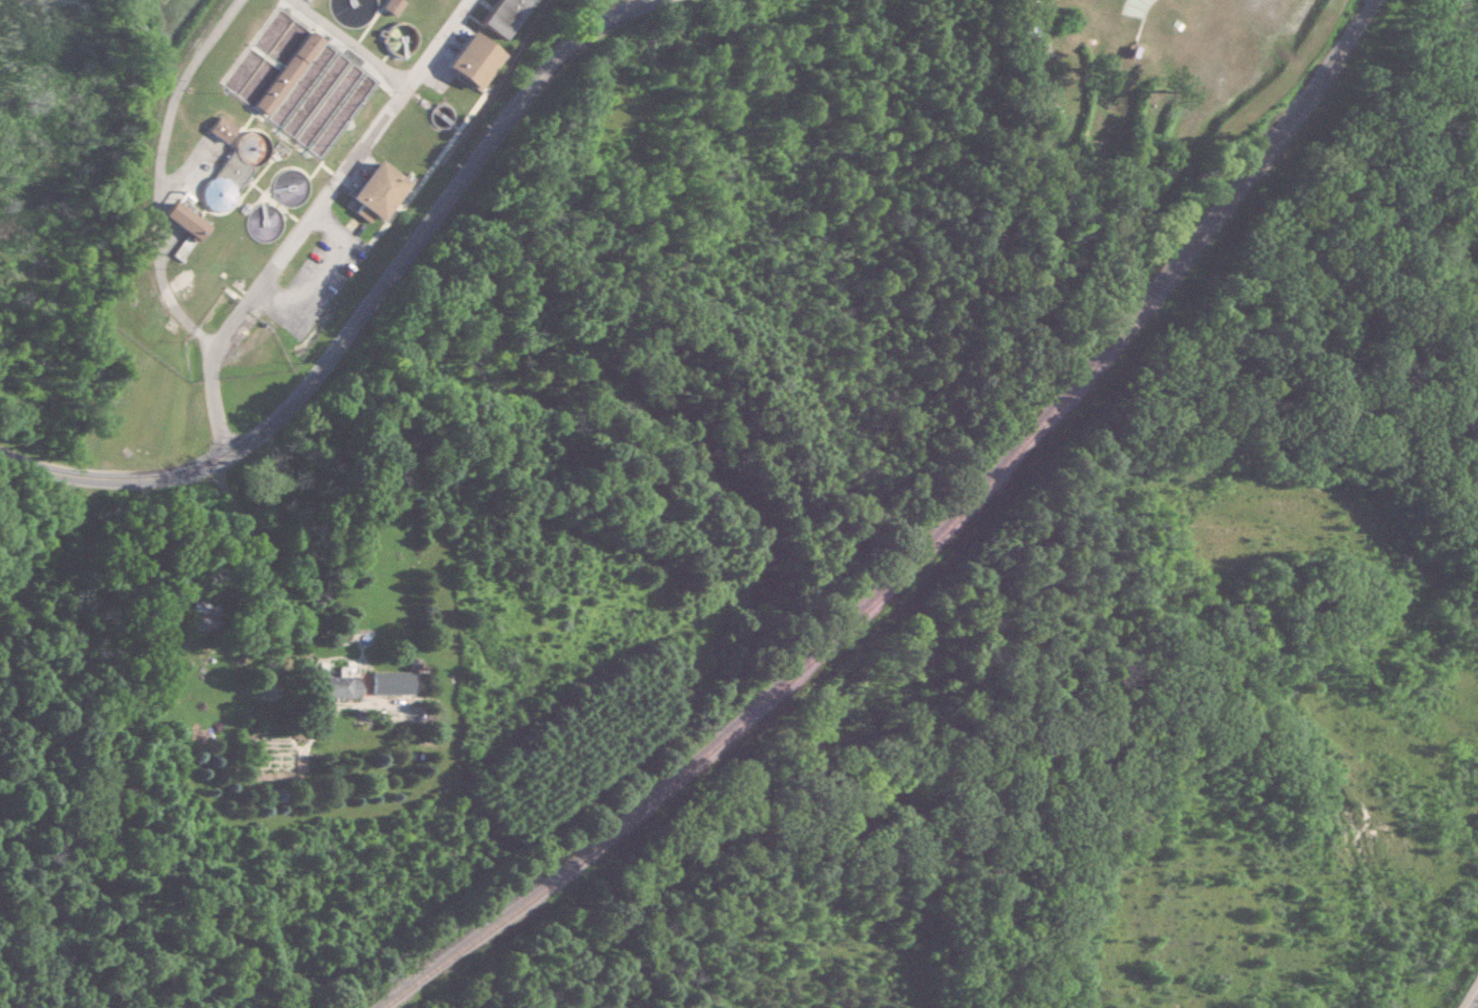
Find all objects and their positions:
building: (392, 6)
building: (351, 12)
building: (506, 16)
building: (1035, 29)
building: (288, 38)
building: (401, 38)
building: (476, 59)
building: (379, 190)
wastewater plant: (275, 193)
building: (184, 219)
road: (311, 222)
road: (324, 274)
road: (372, 327)
railway: (923, 548)
road: (266, 569)
building: (202, 617)
building: (394, 682)
building: (339, 685)

